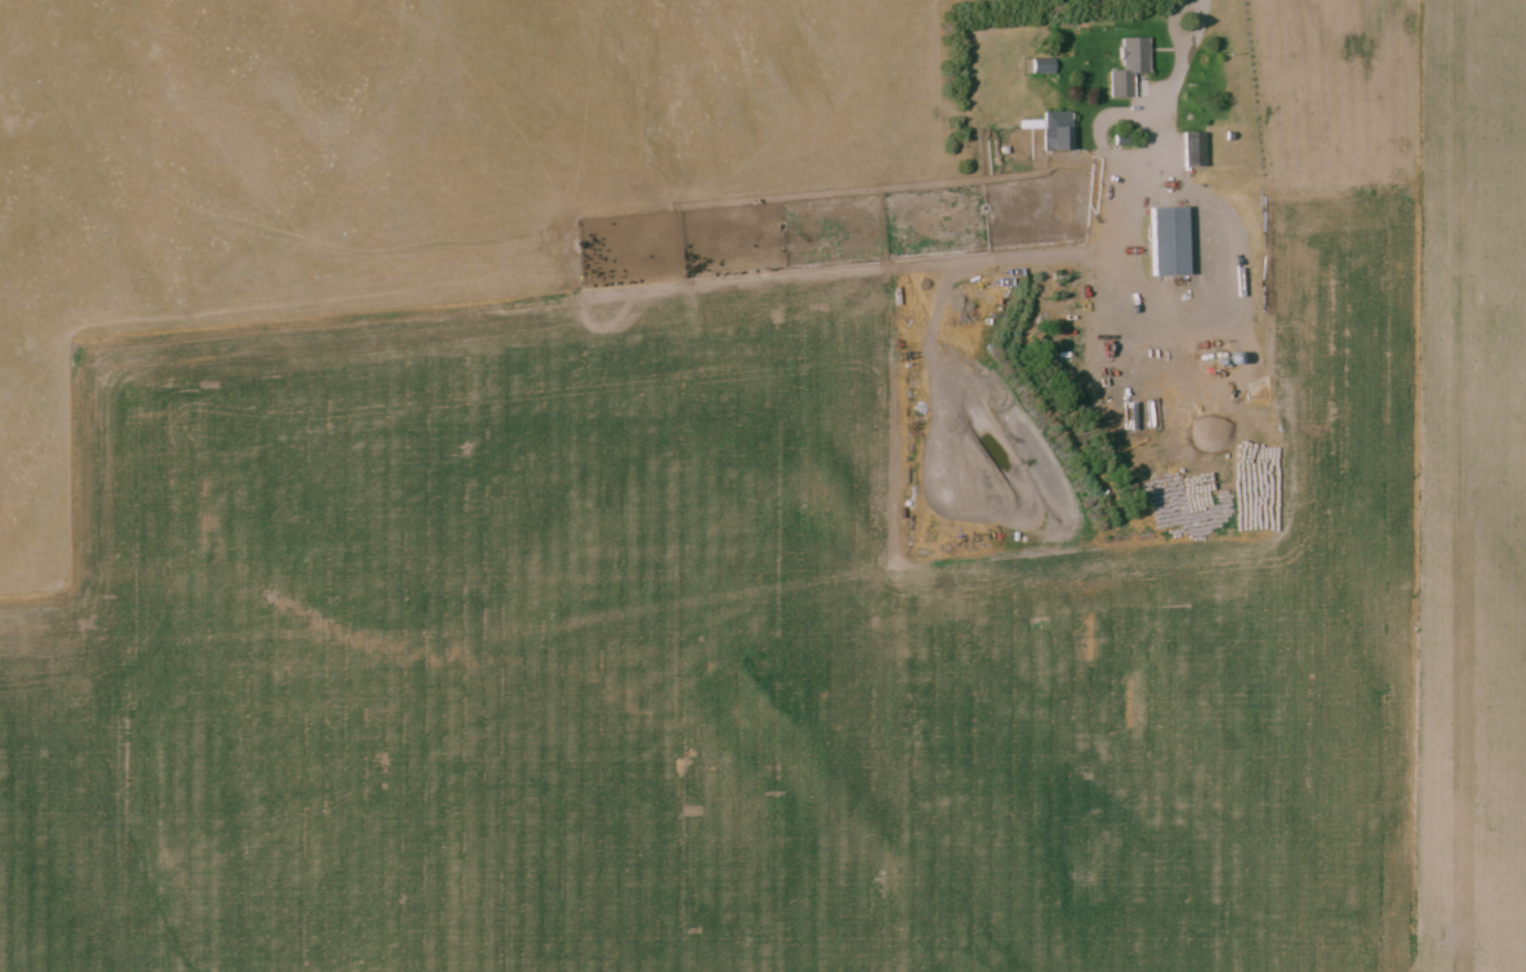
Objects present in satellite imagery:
road: (1190, 51)
building: (1136, 56)
building: (1044, 66)
building: (1056, 130)
building: (1195, 150)
building: (1171, 242)

